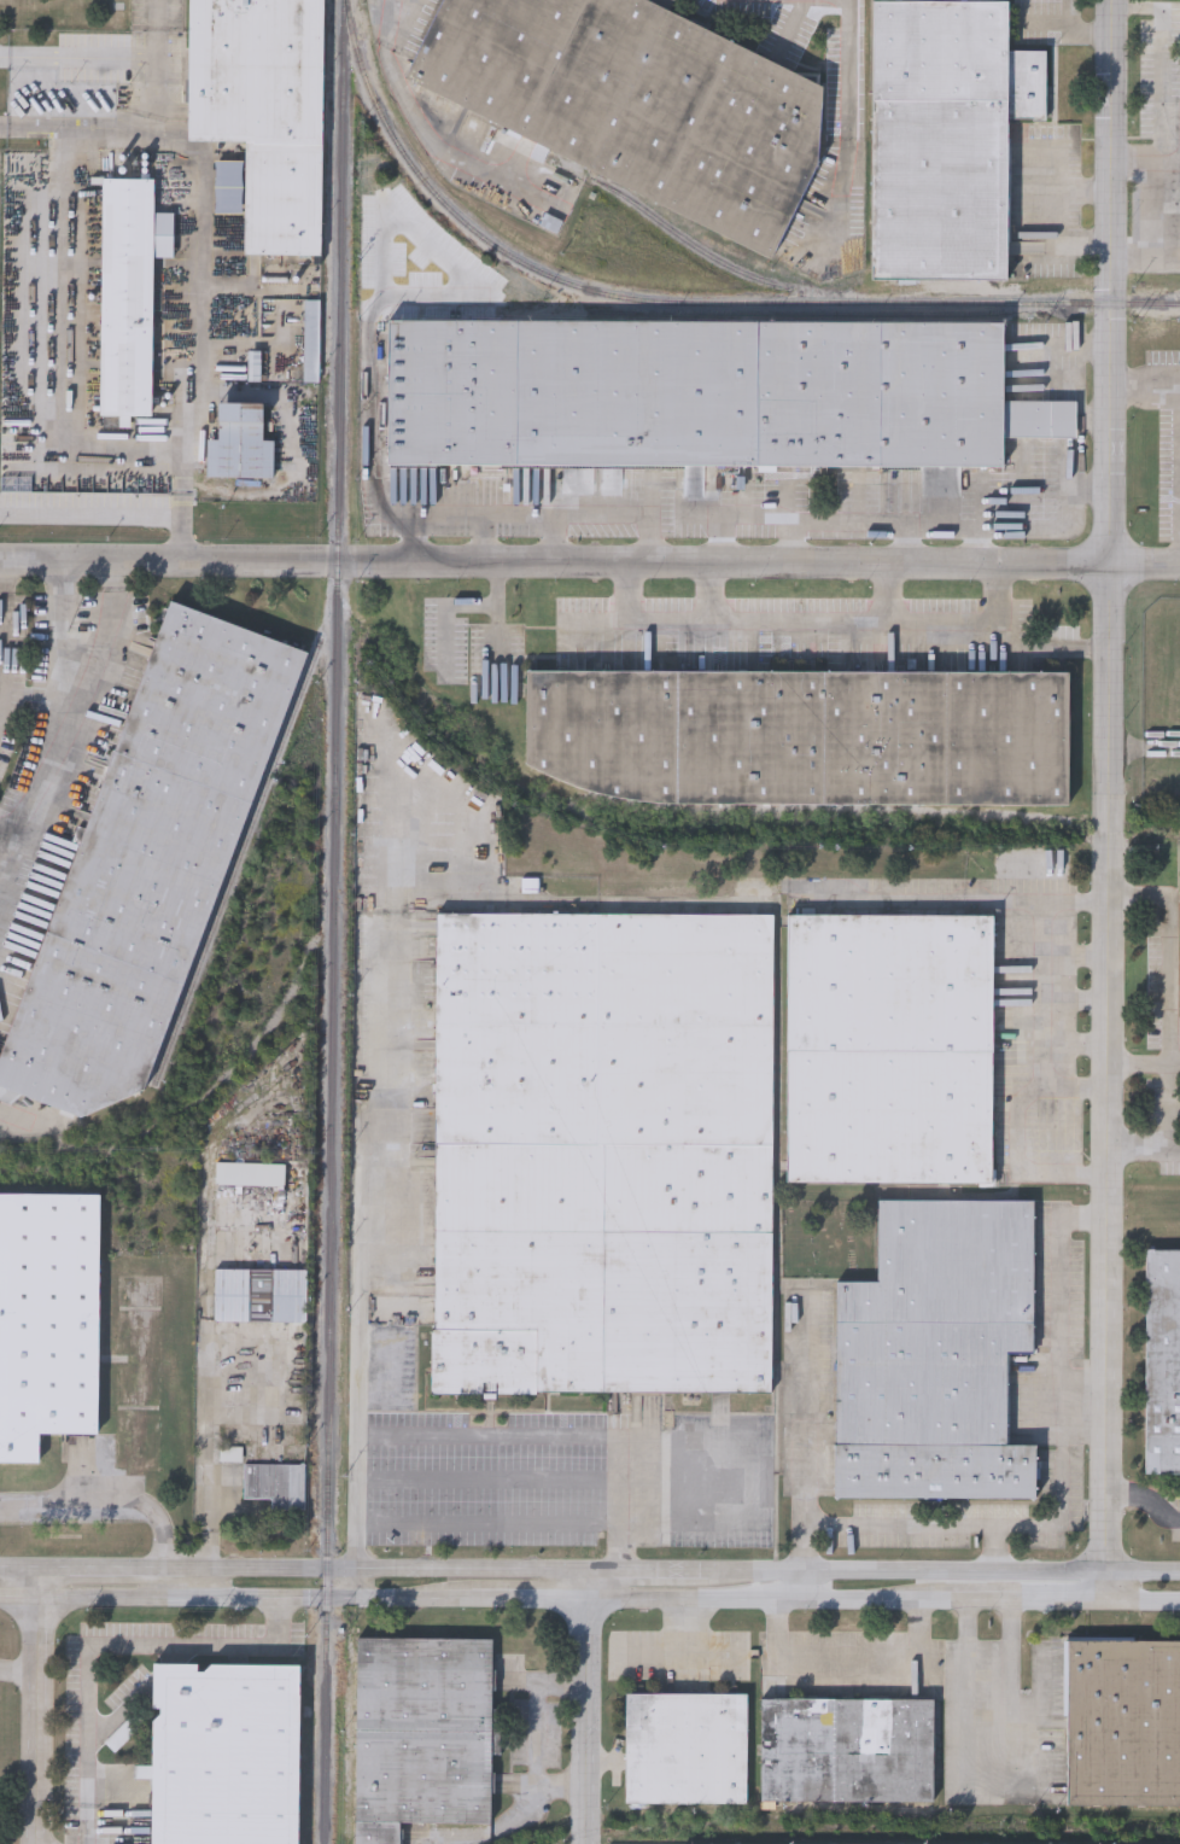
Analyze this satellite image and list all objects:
road: (391, 2)
road: (1075, 24)
road: (159, 27)
building: (632, 103)
building: (263, 111)
road: (848, 113)
road: (29, 127)
road: (107, 129)
road: (1163, 133)
building: (945, 138)
road: (1137, 159)
road: (1071, 164)
railway: (641, 208)
road: (1073, 221)
building: (127, 298)
railway: (683, 304)
building: (312, 343)
road: (1040, 380)
road: (188, 385)
road: (1144, 385)
building: (705, 396)
railway: (339, 424)
road: (378, 436)
building: (239, 445)
road: (185, 507)
road: (526, 519)
road: (916, 525)
road: (590, 564)
road: (116, 573)
road: (4, 576)
road: (712, 593)
road: (893, 594)
road: (57, 595)
road: (1, 619)
road: (811, 619)
road: (1045, 647)
road: (59, 660)
road: (66, 716)
building: (801, 737)
road: (1110, 800)
road: (8, 856)
railway: (238, 863)
building: (150, 865)
road: (1076, 953)
road: (1169, 978)
road: (1076, 1002)
road: (1075, 1043)
building: (889, 1050)
road: (1041, 1055)
road: (1139, 1060)
road: (1074, 1086)
road: (1172, 1131)
road: (1144, 1152)
building: (603, 1155)
building: (251, 1177)
park: (826, 1236)
building: (261, 1297)
road: (356, 1317)
building: (47, 1323)
railway: (329, 1347)
building: (935, 1355)
building: (1162, 1364)
road: (1064, 1381)
road: (1085, 1399)
road: (508, 1436)
road: (489, 1480)
building: (276, 1487)
road: (106, 1501)
road: (1145, 1501)
road: (896, 1523)
road: (487, 1525)
road: (19, 1566)
road: (111, 1568)
road: (382, 1568)
road: (646, 1569)
road: (945, 1570)
road: (164, 1582)
road: (354, 1583)
road: (806, 1586)
road: (590, 1600)
road: (110, 1644)
road: (672, 1647)
road: (989, 1648)
road: (849, 1664)
road: (18, 1669)
road: (36, 1705)
road: (580, 1705)
building: (1122, 1726)
building: (421, 1735)
road: (544, 1735)
building: (685, 1751)
building: (846, 1751)
building: (222, 1755)

